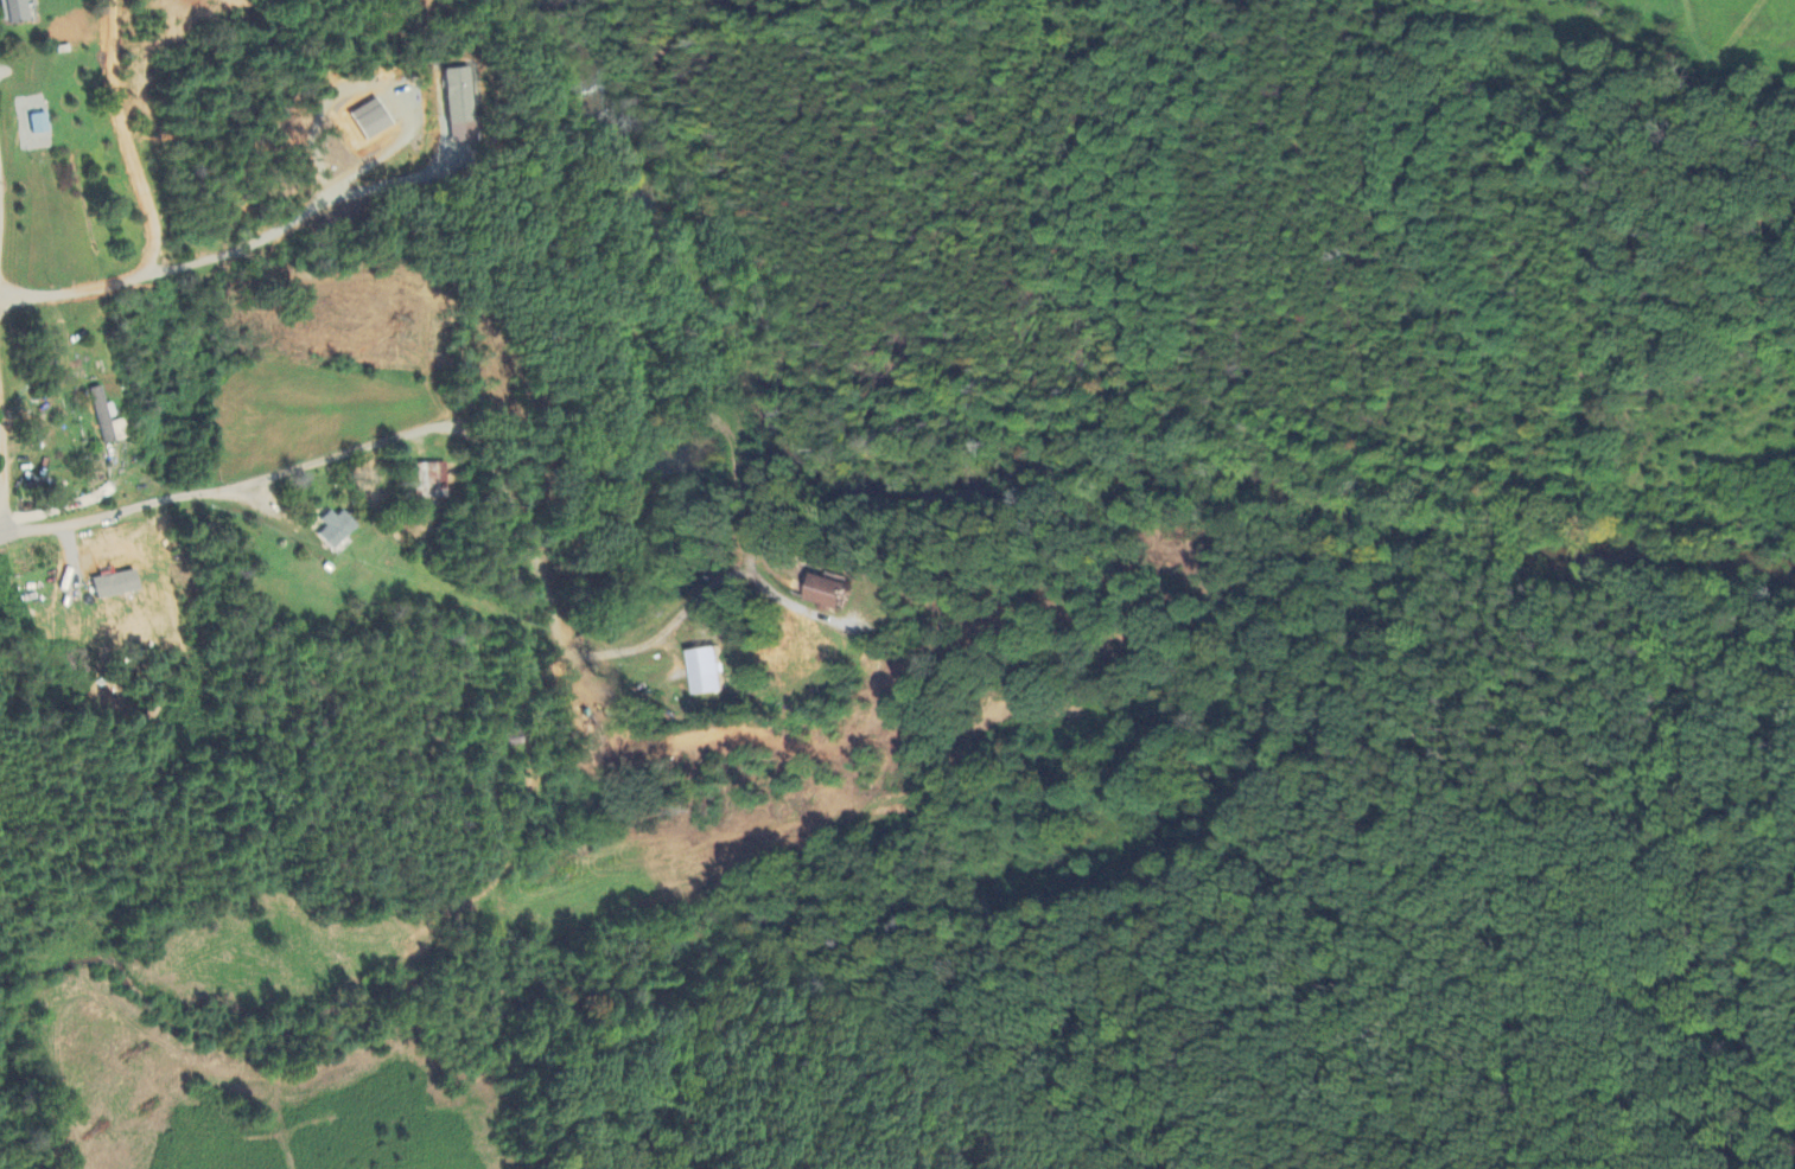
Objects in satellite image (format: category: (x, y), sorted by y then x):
building: (13, 12)
building: (63, 34)
building: (459, 106)
building: (370, 121)
building: (38, 126)
road: (378, 154)
road: (397, 178)
road: (148, 207)
building: (107, 420)
road: (352, 452)
road: (5, 473)
building: (429, 481)
building: (333, 530)
building: (113, 586)
building: (822, 592)
road: (592, 656)
building: (704, 671)

